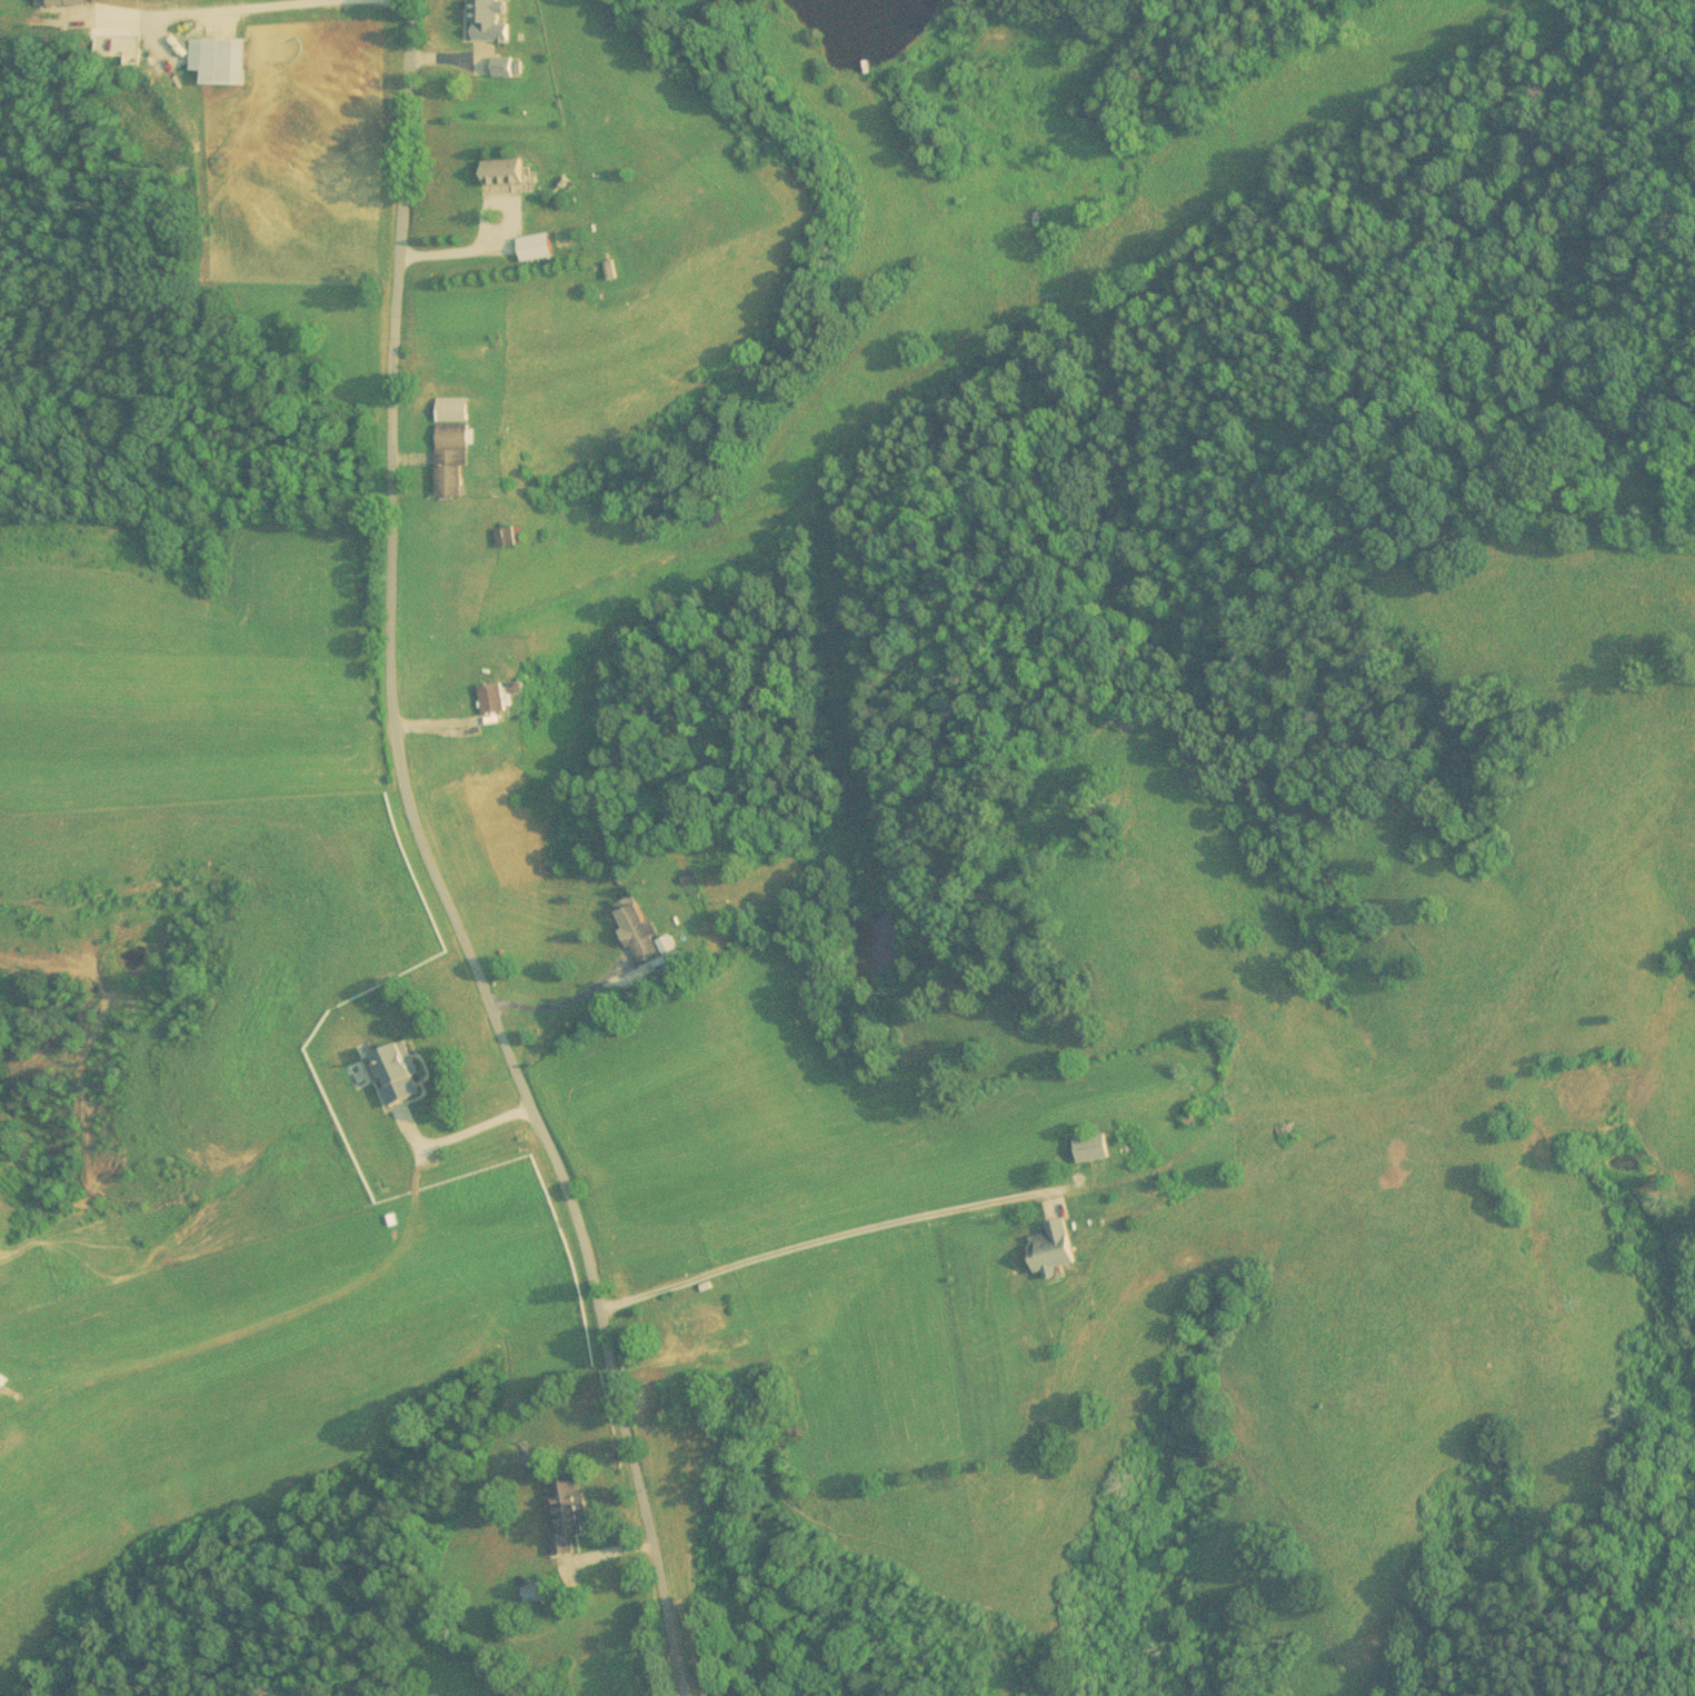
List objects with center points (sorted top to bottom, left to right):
road: (387, 0)
building: (58, 2)
road: (223, 11)
building: (485, 20)
building: (217, 61)
building: (500, 172)
building: (449, 447)
building: (502, 538)
building: (493, 698)
road: (427, 869)
building: (636, 934)
building: (392, 1071)
building: (1210, 1107)
road: (477, 1130)
building: (1284, 1131)
road: (818, 1238)
building: (1049, 1248)
building: (617, 1278)
building: (682, 1327)
building: (1, 1379)
building: (561, 1514)
building: (530, 1594)

